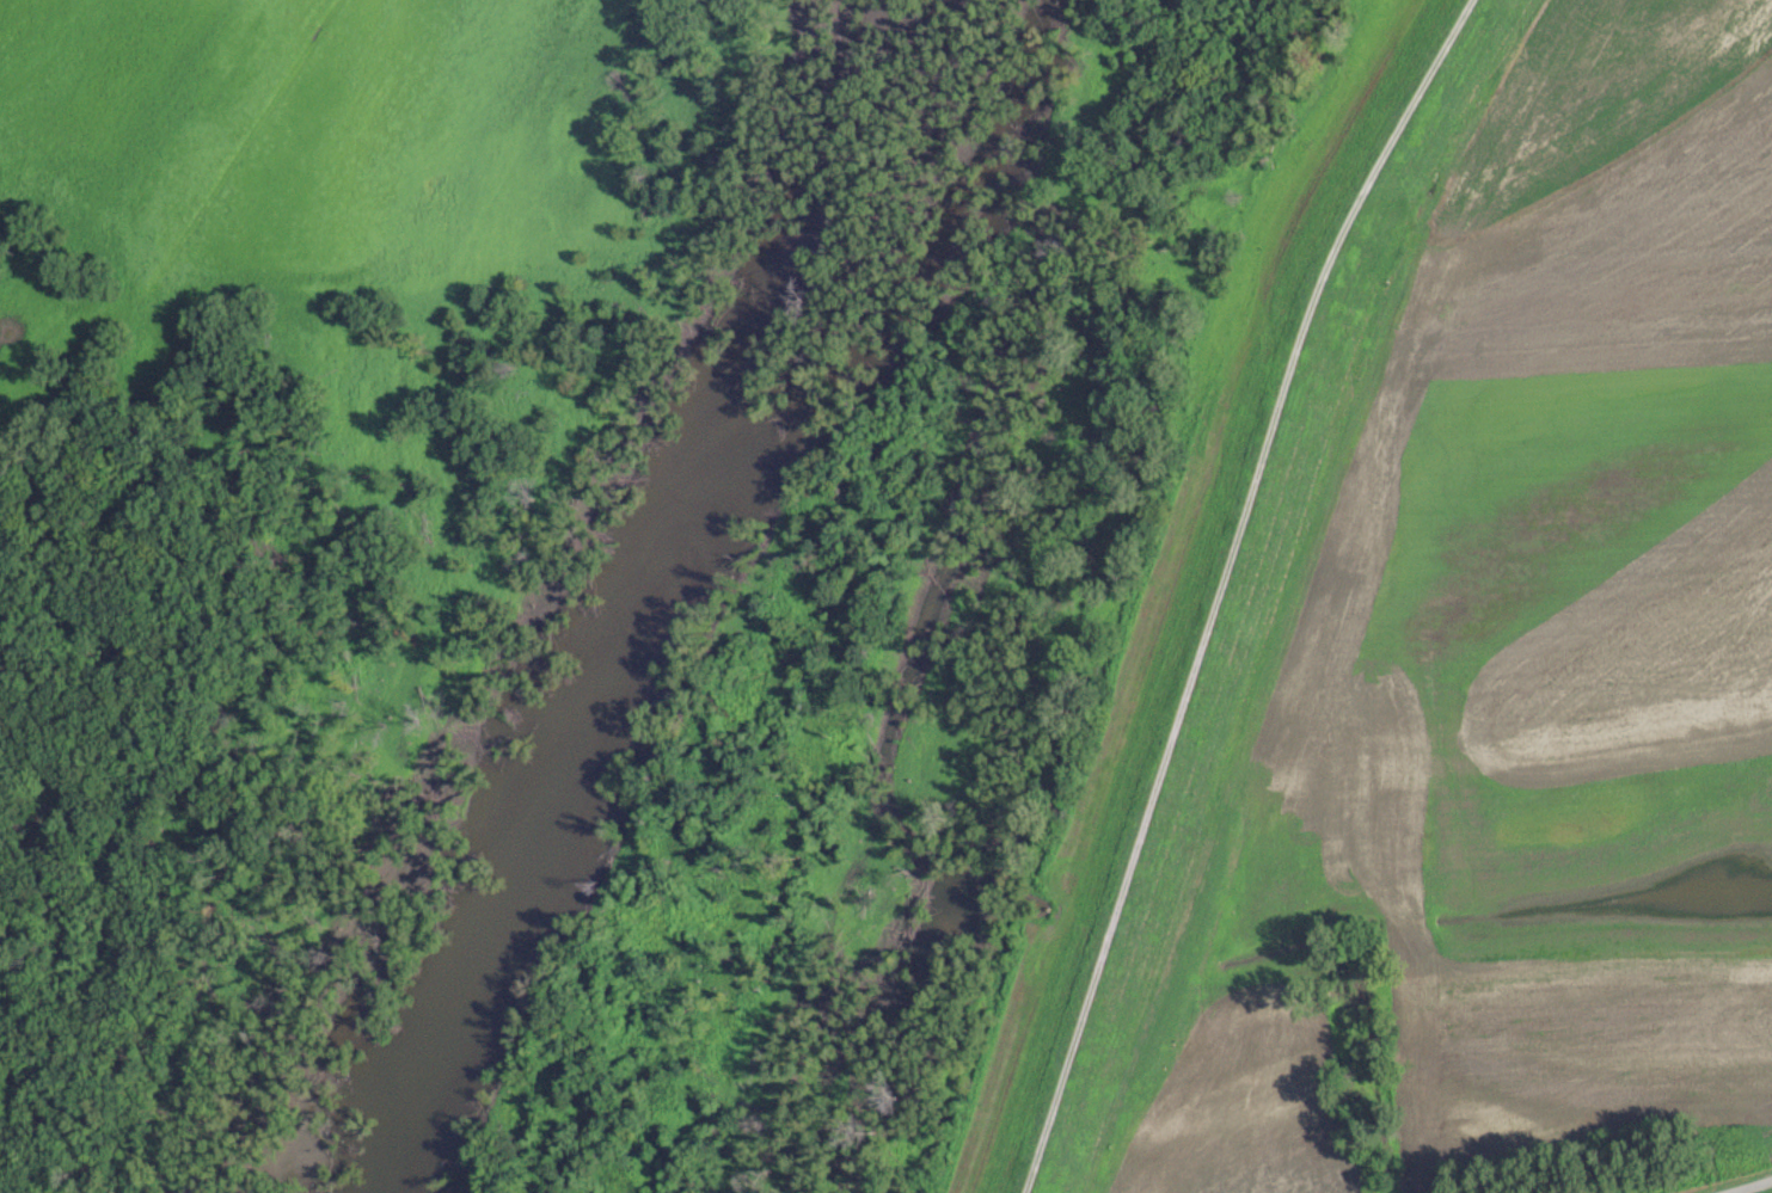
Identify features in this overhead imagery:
road: (1749, 1186)

